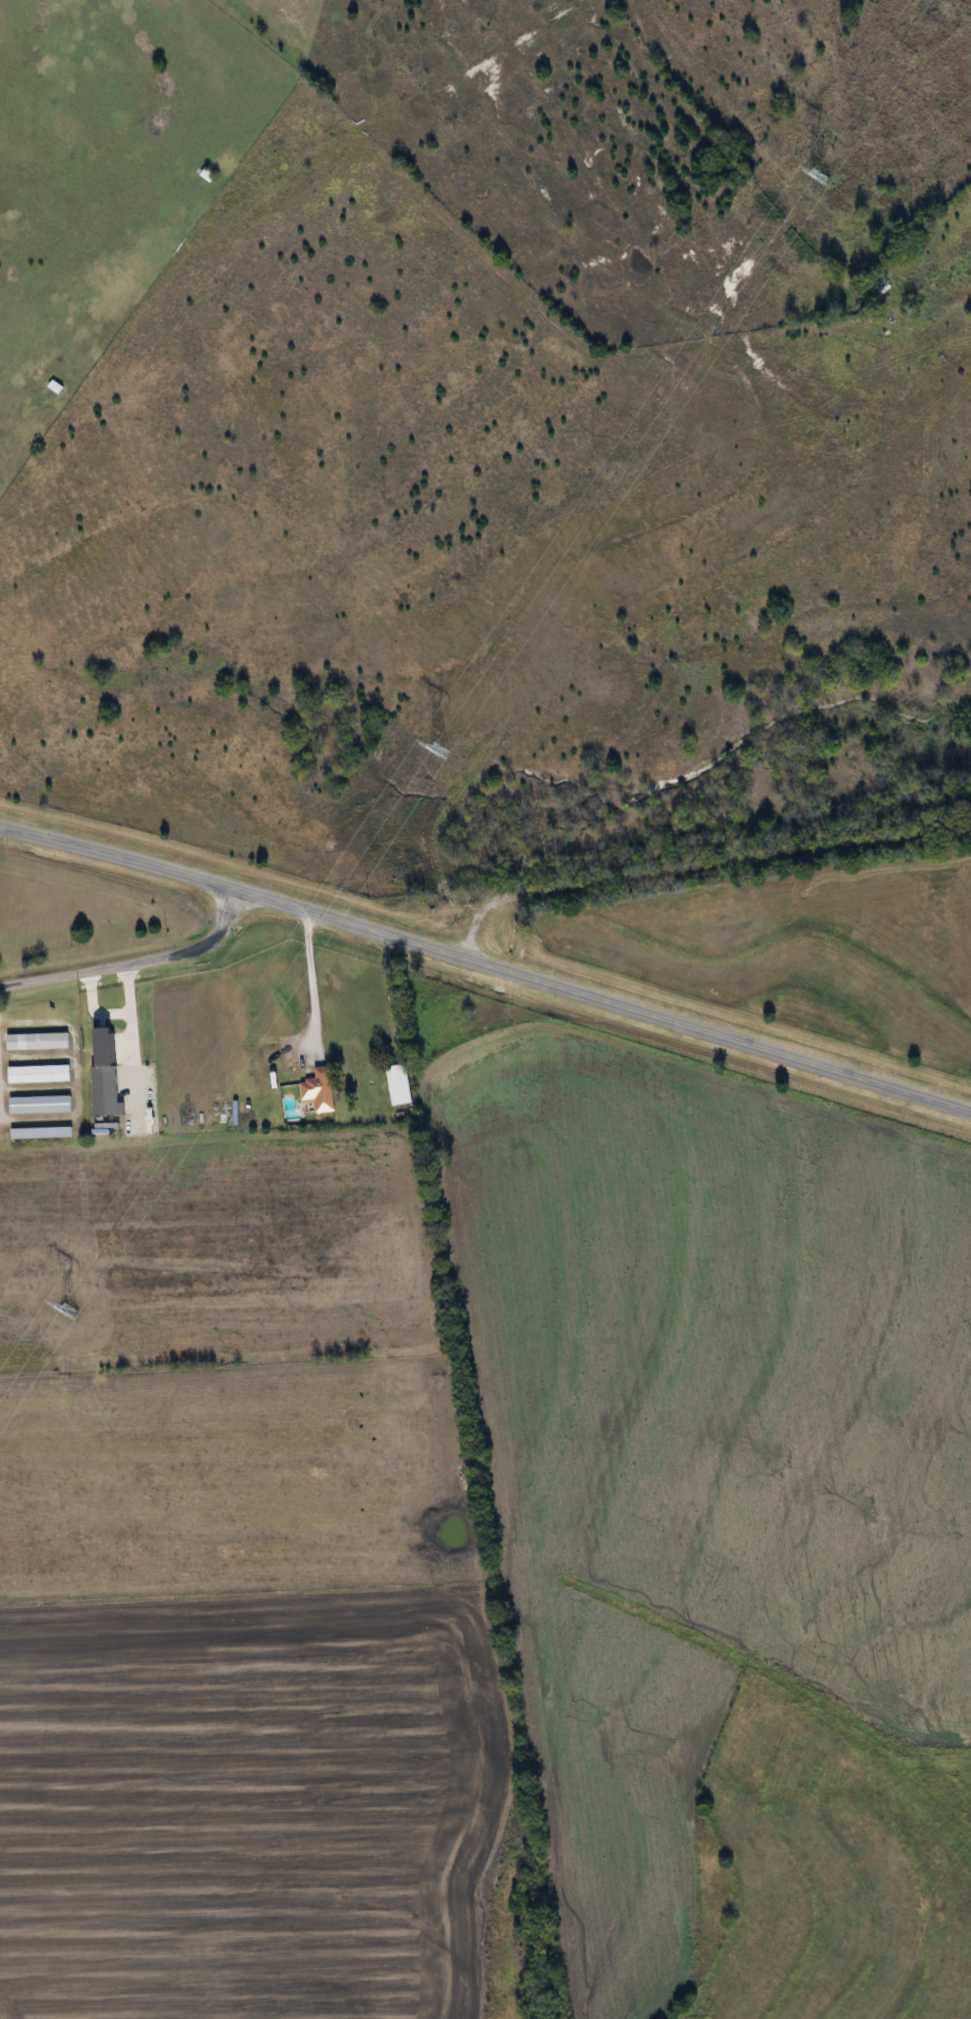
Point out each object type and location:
power tower: (819, 173)
power tower: (440, 748)
road: (699, 870)
road: (132, 959)
road: (487, 966)
road: (319, 981)
road: (91, 1004)
road: (130, 1036)
building: (37, 1040)
building: (39, 1073)
building: (399, 1084)
building: (319, 1089)
building: (105, 1096)
building: (39, 1104)
building: (41, 1132)
power tower: (68, 1307)

